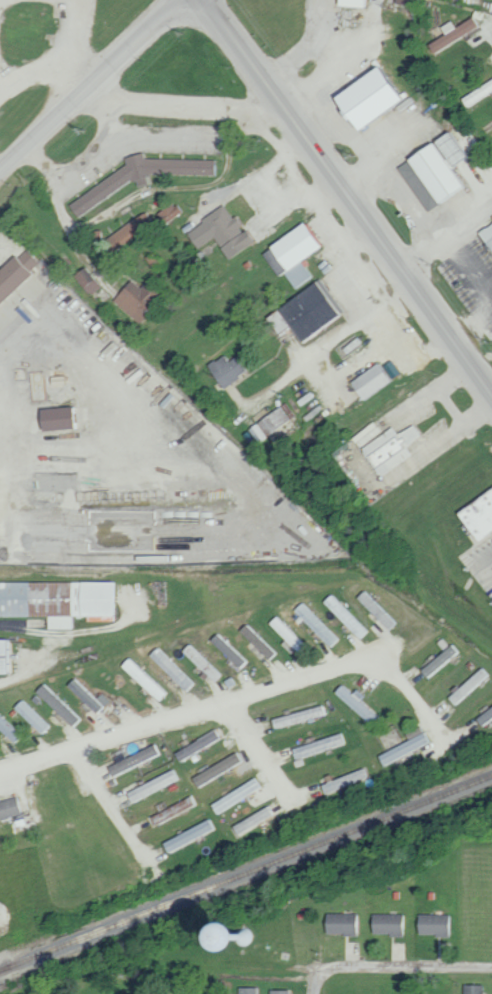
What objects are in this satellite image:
building: (402, 1)
building: (351, 3)
road: (480, 19)
building: (451, 32)
road: (40, 74)
road: (90, 82)
building: (476, 93)
building: (362, 98)
road: (194, 111)
building: (431, 171)
building: (137, 176)
road: (349, 200)
building: (166, 213)
building: (218, 232)
building: (487, 234)
road: (332, 243)
road: (450, 244)
building: (291, 253)
building: (14, 271)
building: (84, 280)
building: (137, 299)
building: (304, 311)
building: (223, 370)
building: (371, 379)
building: (270, 422)
road: (431, 445)
building: (382, 446)
building: (476, 515)
road: (292, 521)
building: (59, 601)
building: (345, 616)
building: (315, 624)
building: (288, 634)
building: (257, 641)
building: (227, 649)
building: (5, 656)
building: (201, 662)
building: (436, 662)
building: (171, 668)
building: (143, 678)
building: (467, 686)
building: (87, 695)
road: (241, 697)
building: (57, 704)
building: (31, 715)
building: (296, 716)
building: (484, 716)
building: (8, 729)
building: (195, 745)
building: (404, 745)
building: (306, 749)
road: (263, 757)
building: (133, 759)
building: (214, 769)
building: (152, 785)
building: (234, 795)
road: (112, 807)
building: (8, 808)
building: (172, 810)
building: (250, 821)
building: (187, 835)
railway: (246, 870)
building: (338, 923)
building: (386, 923)
building: (432, 924)
water tower: (241, 937)
railway: (2, 968)
road: (373, 970)
road: (314, 982)
building: (473, 989)
building: (246, 990)
building: (277, 991)

